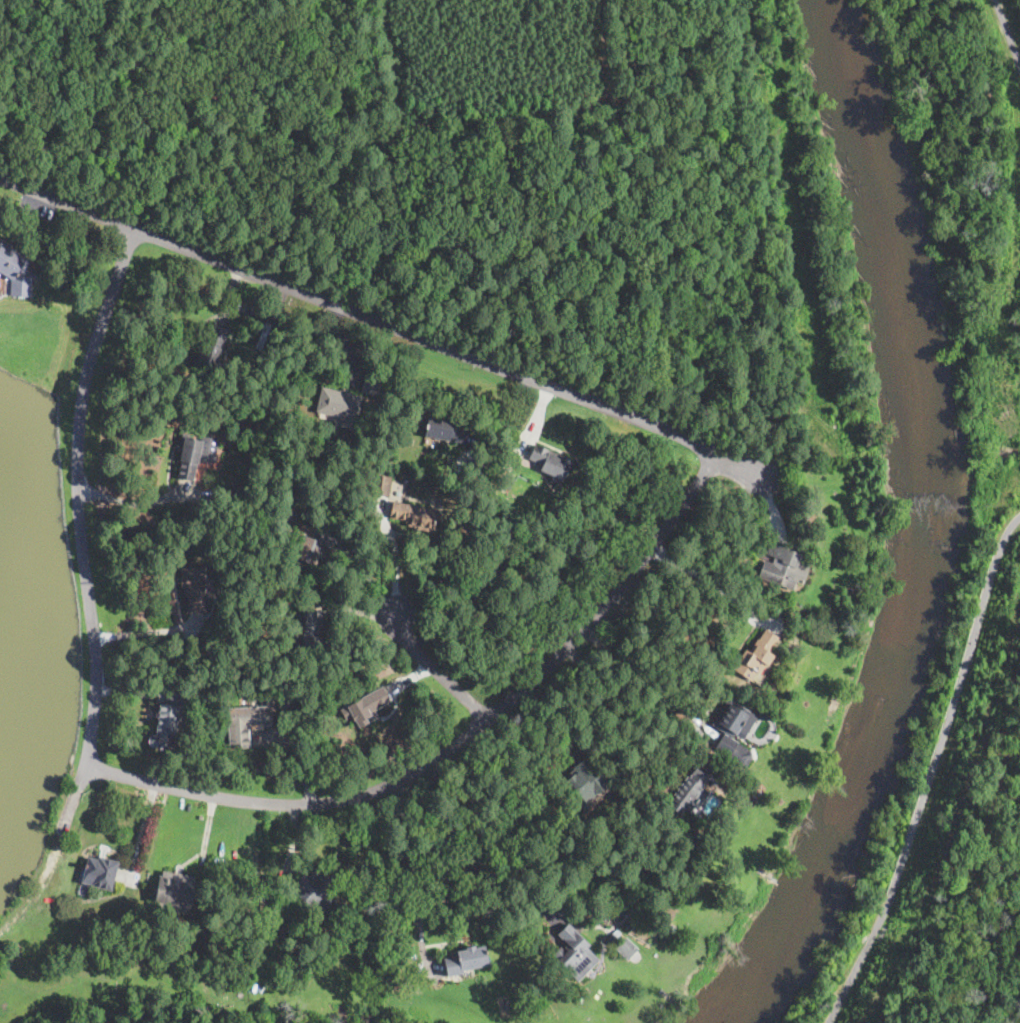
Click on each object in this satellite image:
road: (1008, 37)
park: (488, 177)
building: (16, 270)
road: (384, 323)
building: (265, 337)
building: (212, 348)
building: (370, 383)
building: (340, 406)
building: (445, 430)
building: (192, 456)
building: (549, 461)
building: (476, 468)
building: (509, 481)
building: (381, 486)
building: (237, 494)
road: (76, 496)
road: (127, 501)
building: (283, 504)
building: (290, 514)
park: (993, 514)
building: (417, 516)
river: (921, 529)
building: (312, 546)
road: (393, 562)
building: (784, 565)
building: (487, 576)
road: (704, 578)
building: (194, 587)
road: (358, 610)
building: (311, 635)
building: (756, 656)
road: (434, 672)
road: (641, 672)
road: (127, 690)
road: (627, 700)
building: (366, 707)
building: (255, 714)
building: (169, 716)
building: (732, 734)
road: (459, 742)
road: (928, 778)
building: (585, 779)
building: (691, 790)
building: (694, 837)
road: (481, 838)
building: (102, 872)
road: (411, 877)
building: (174, 890)
building: (316, 891)
building: (627, 904)
building: (631, 910)
building: (621, 911)
building: (274, 921)
building: (670, 927)
building: (612, 937)
building: (627, 947)
building: (573, 952)
building: (467, 960)

